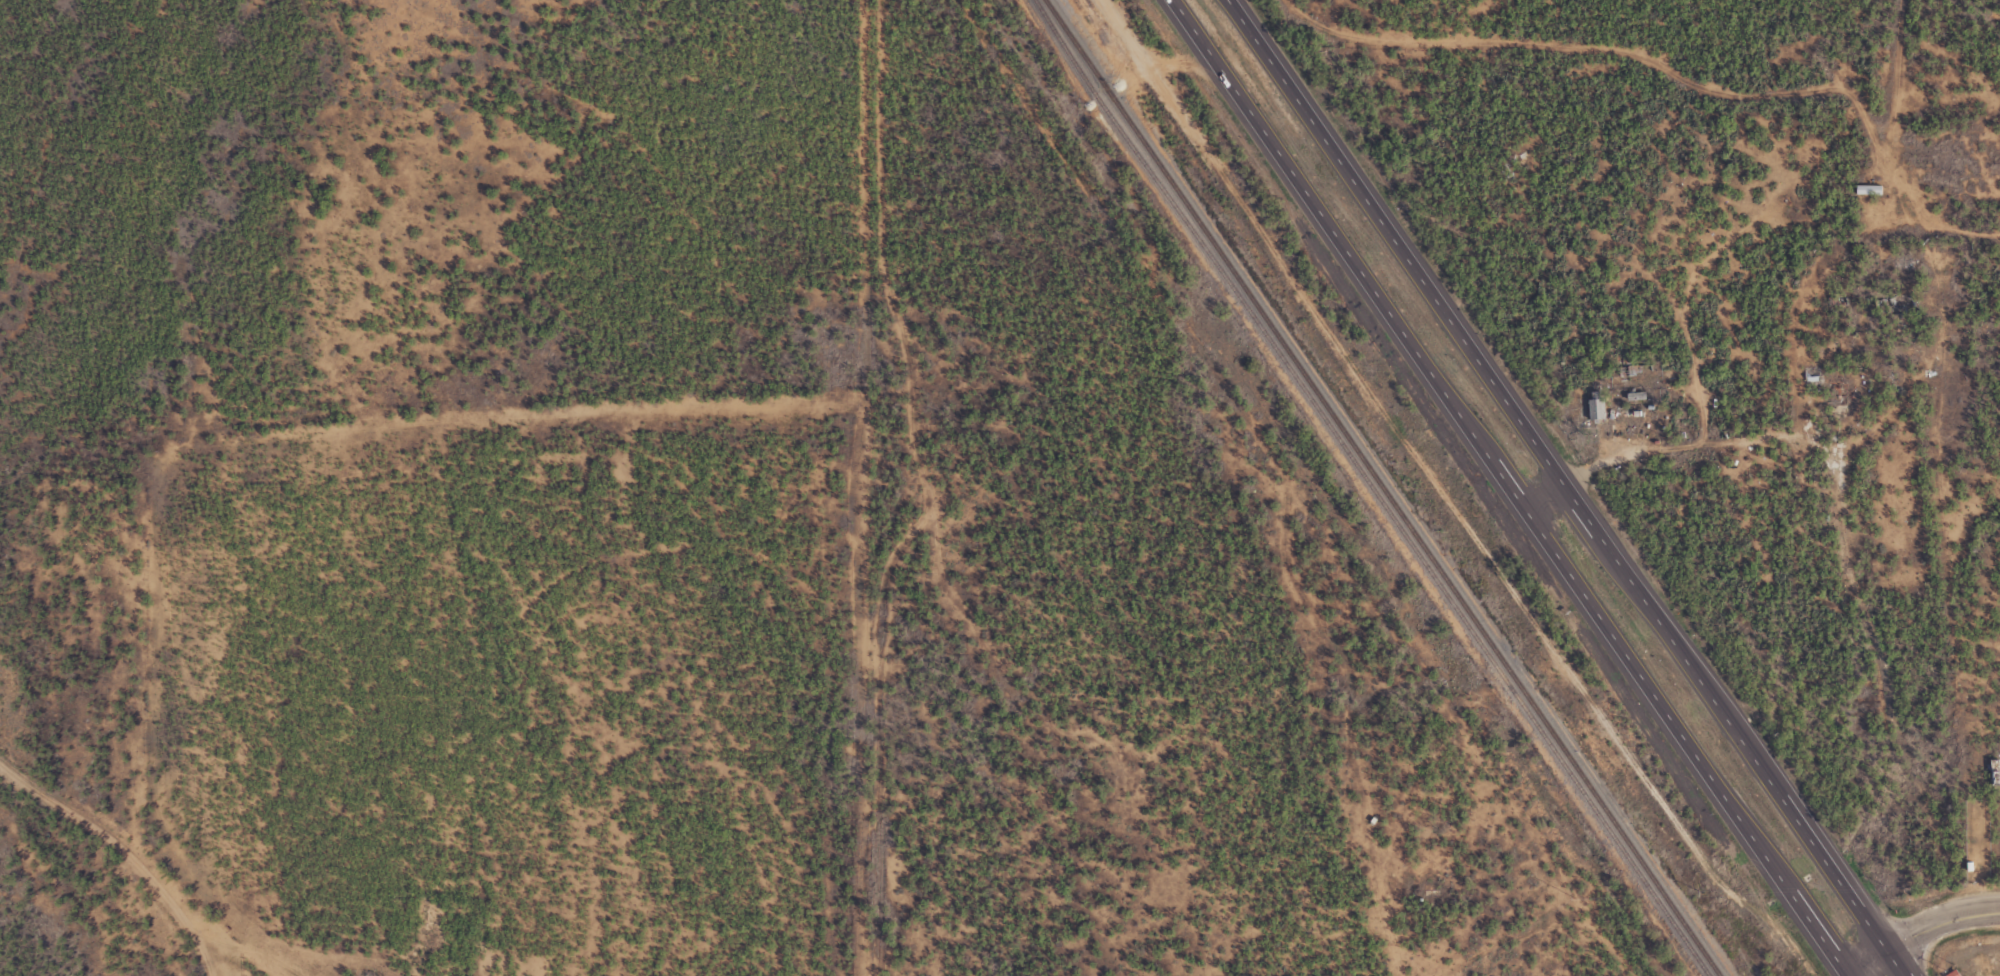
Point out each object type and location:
road: (1872, 117)
building: (1871, 188)
road: (1928, 247)
building: (1903, 307)
building: (1639, 396)
building: (1599, 409)
building: (1629, 417)
railway: (1373, 488)
railway: (1384, 488)
road: (1513, 488)
road: (1562, 488)
building: (1996, 772)
road: (122, 854)
road: (1924, 931)
road: (244, 949)
building: (1956, 973)

